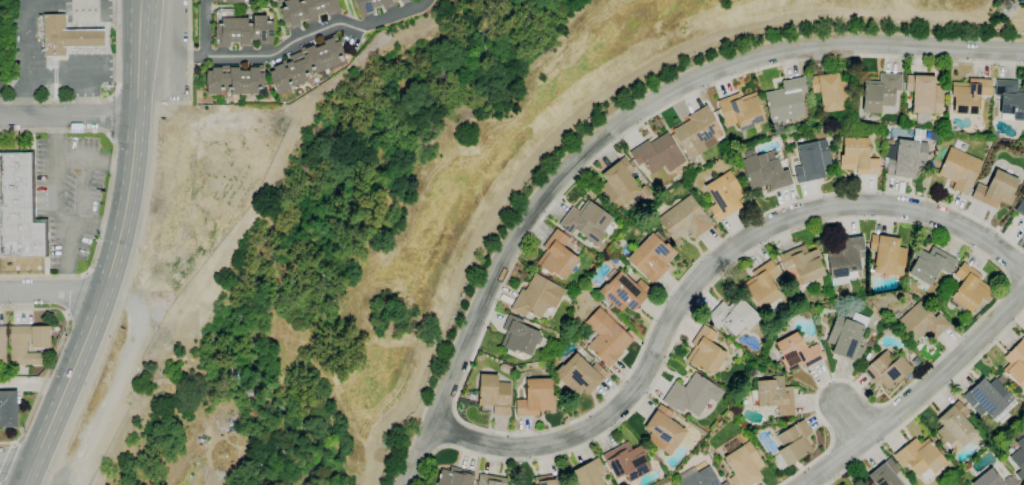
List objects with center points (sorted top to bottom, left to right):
building: (230, 1)
building: (403, 1)
building: (372, 6)
power tower: (1007, 10)
building: (305, 11)
road: (204, 28)
building: (243, 31)
building: (66, 36)
gas station: (66, 36)
road: (285, 45)
building: (13, 48)
building: (12, 61)
building: (307, 63)
building: (233, 80)
building: (831, 92)
building: (881, 92)
road: (137, 93)
building: (925, 94)
road: (587, 95)
building: (969, 95)
road: (105, 99)
building: (1010, 99)
building: (785, 102)
building: (742, 113)
road: (108, 116)
road: (68, 117)
building: (837, 117)
road: (615, 124)
building: (695, 132)
building: (934, 134)
road: (54, 137)
building: (658, 154)
building: (858, 157)
building: (905, 158)
building: (812, 161)
road: (109, 162)
building: (933, 163)
building: (765, 170)
building: (960, 170)
building: (637, 171)
building: (622, 185)
building: (996, 190)
road: (108, 193)
building: (1023, 193)
parking lot: (67, 194)
building: (724, 196)
building: (20, 208)
road: (57, 208)
building: (1020, 208)
building: (685, 219)
road: (850, 219)
building: (586, 222)
building: (729, 225)
road: (98, 227)
building: (1023, 232)
road: (140, 234)
building: (627, 248)
road: (115, 250)
road: (66, 255)
building: (557, 255)
building: (888, 255)
building: (652, 257)
building: (845, 259)
road: (1014, 261)
building: (930, 264)
building: (802, 265)
road: (702, 273)
building: (762, 285)
building: (969, 289)
road: (1015, 290)
road: (52, 291)
building: (623, 291)
road: (71, 296)
building: (537, 297)
building: (734, 316)
building: (920, 324)
building: (873, 334)
building: (606, 336)
building: (520, 337)
building: (848, 337)
building: (870, 343)
building: (2, 345)
building: (40, 345)
building: (706, 351)
building: (797, 352)
road: (55, 356)
building: (1016, 364)
building: (887, 369)
building: (580, 375)
road: (463, 385)
building: (494, 394)
road: (917, 394)
building: (692, 395)
building: (775, 395)
building: (988, 397)
building: (536, 398)
road: (928, 402)
building: (8, 409)
road: (851, 418)
building: (955, 427)
building: (664, 431)
road: (451, 432)
building: (793, 444)
road: (2, 451)
building: (920, 458)
building: (1019, 459)
road: (16, 462)
building: (627, 462)
building: (743, 463)
building: (588, 474)
building: (885, 474)
building: (455, 477)
building: (700, 478)
building: (993, 479)
building: (490, 480)
building: (546, 480)

